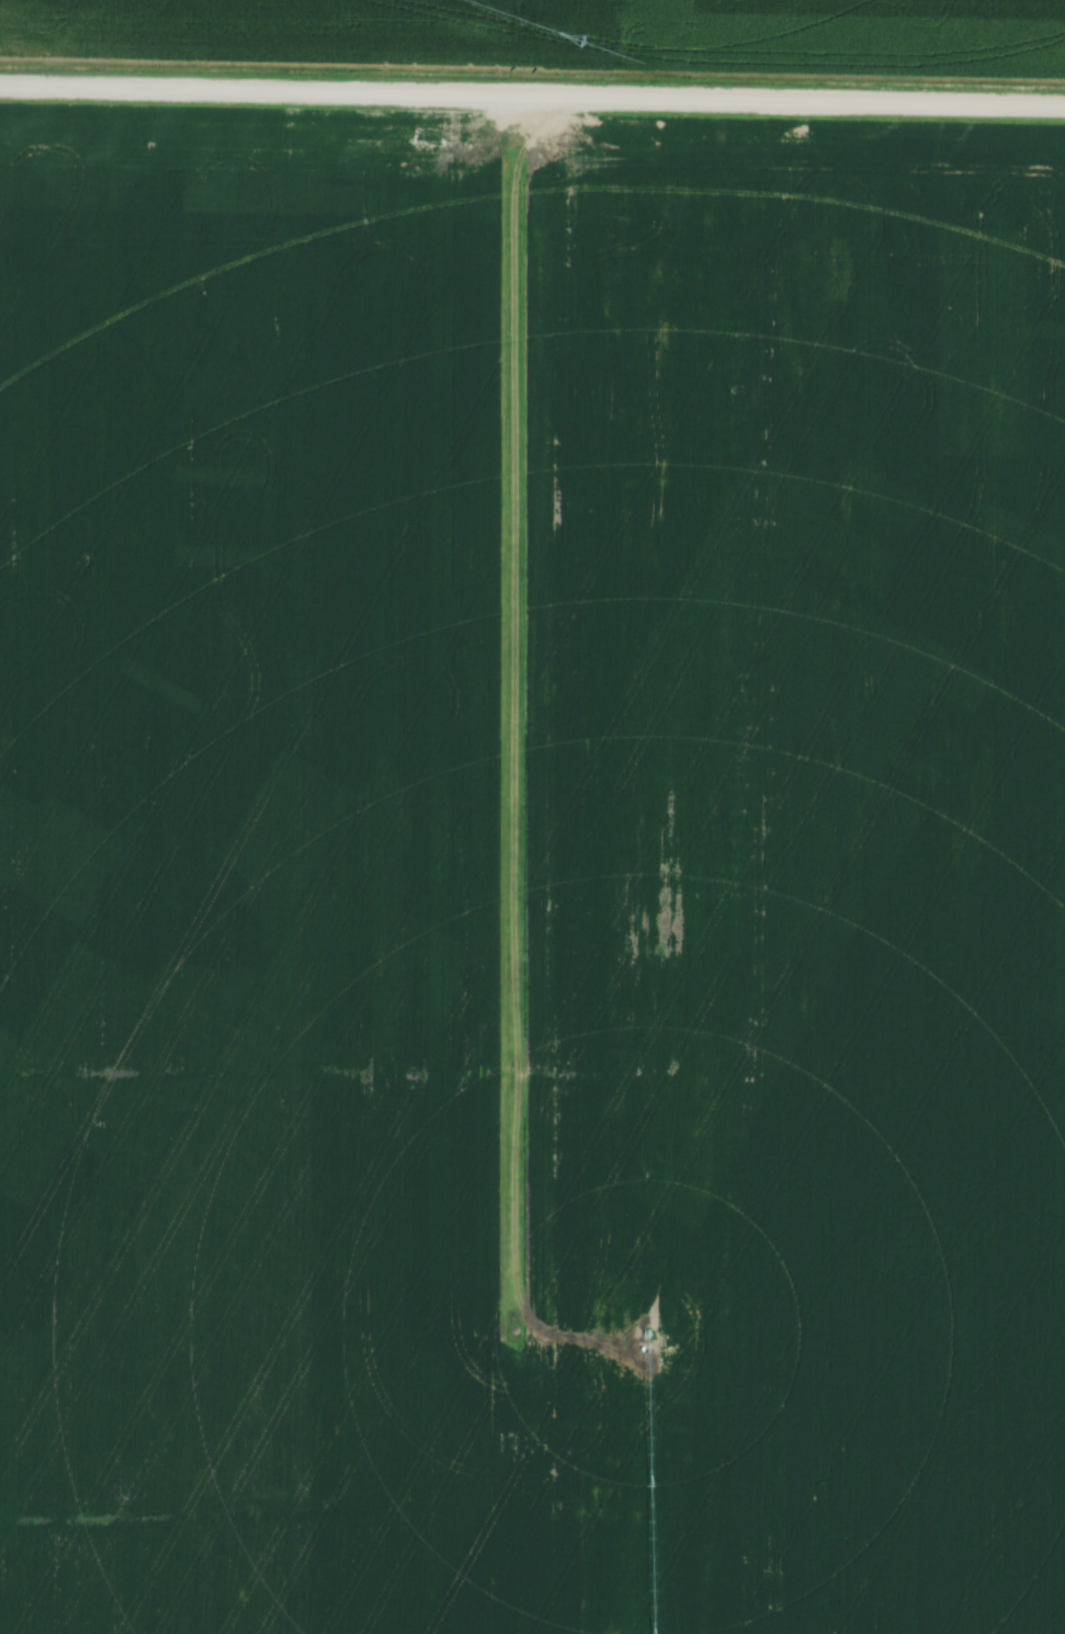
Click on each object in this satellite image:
road: (532, 99)

